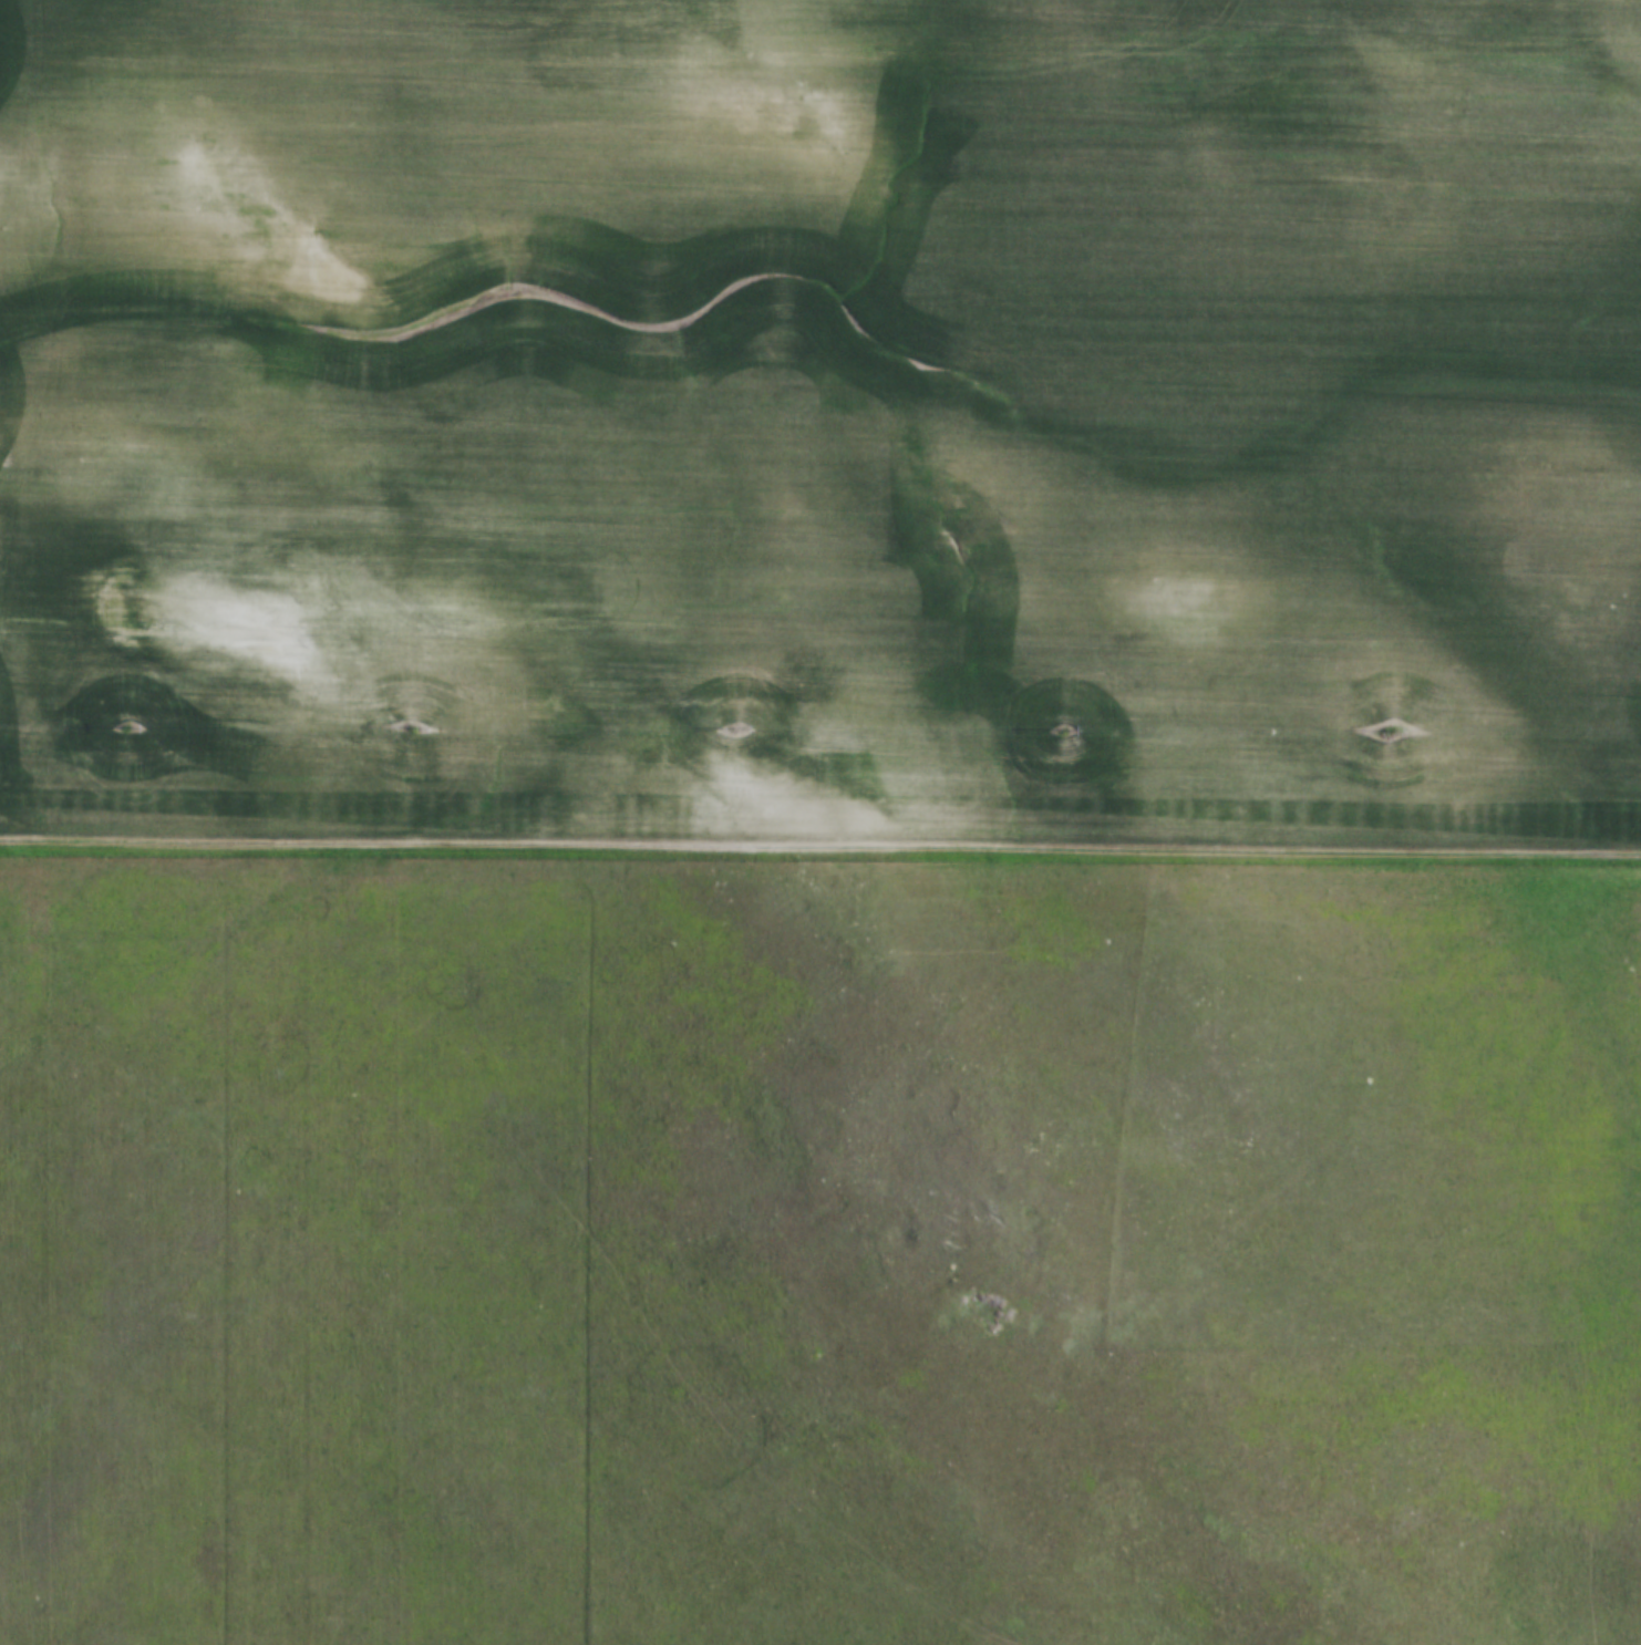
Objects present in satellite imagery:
road: (820, 839)

